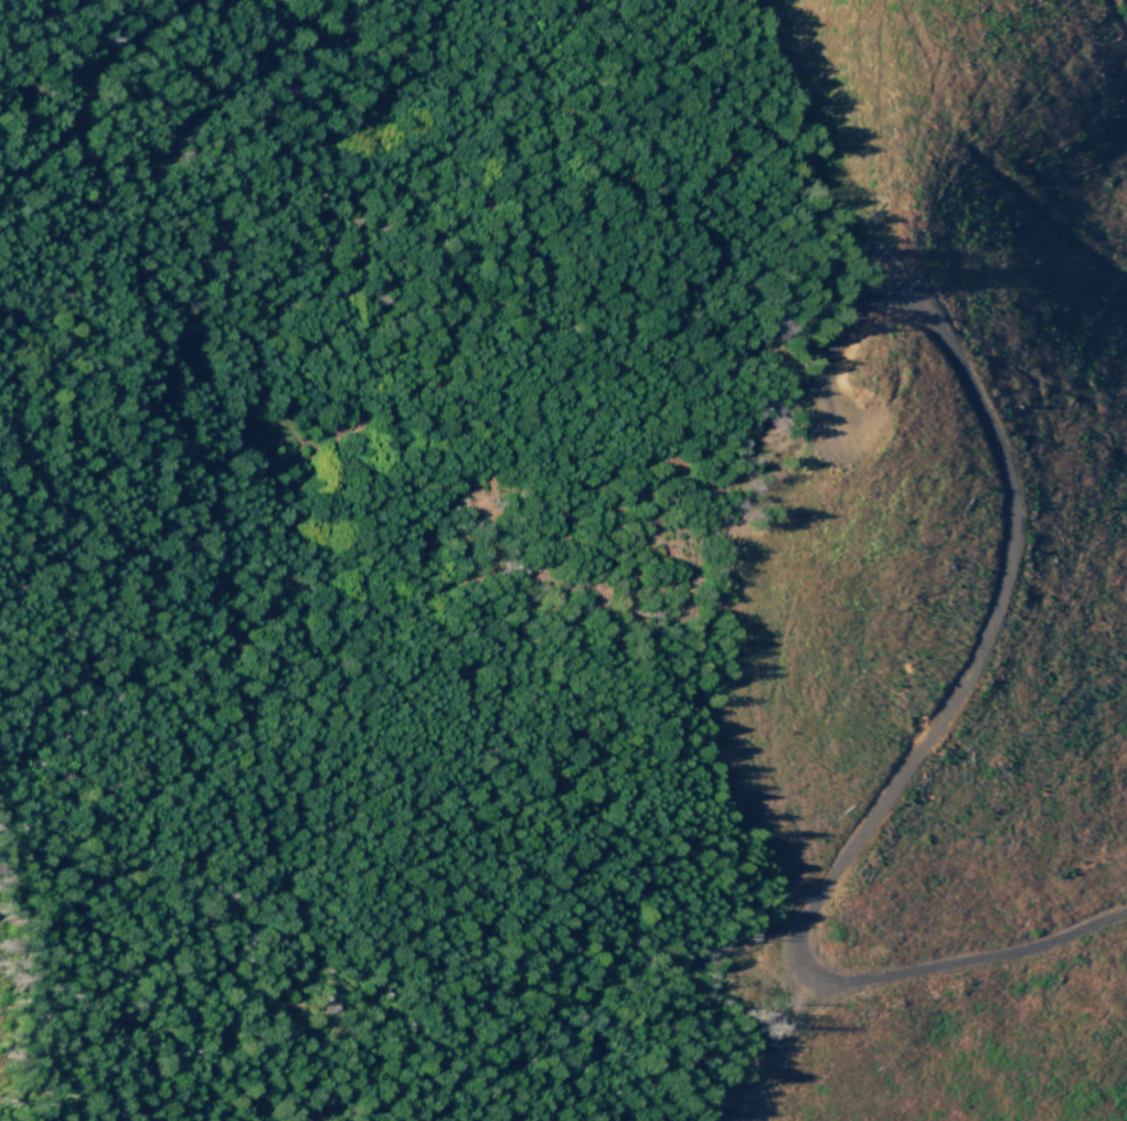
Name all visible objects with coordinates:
road: (83, 79)

